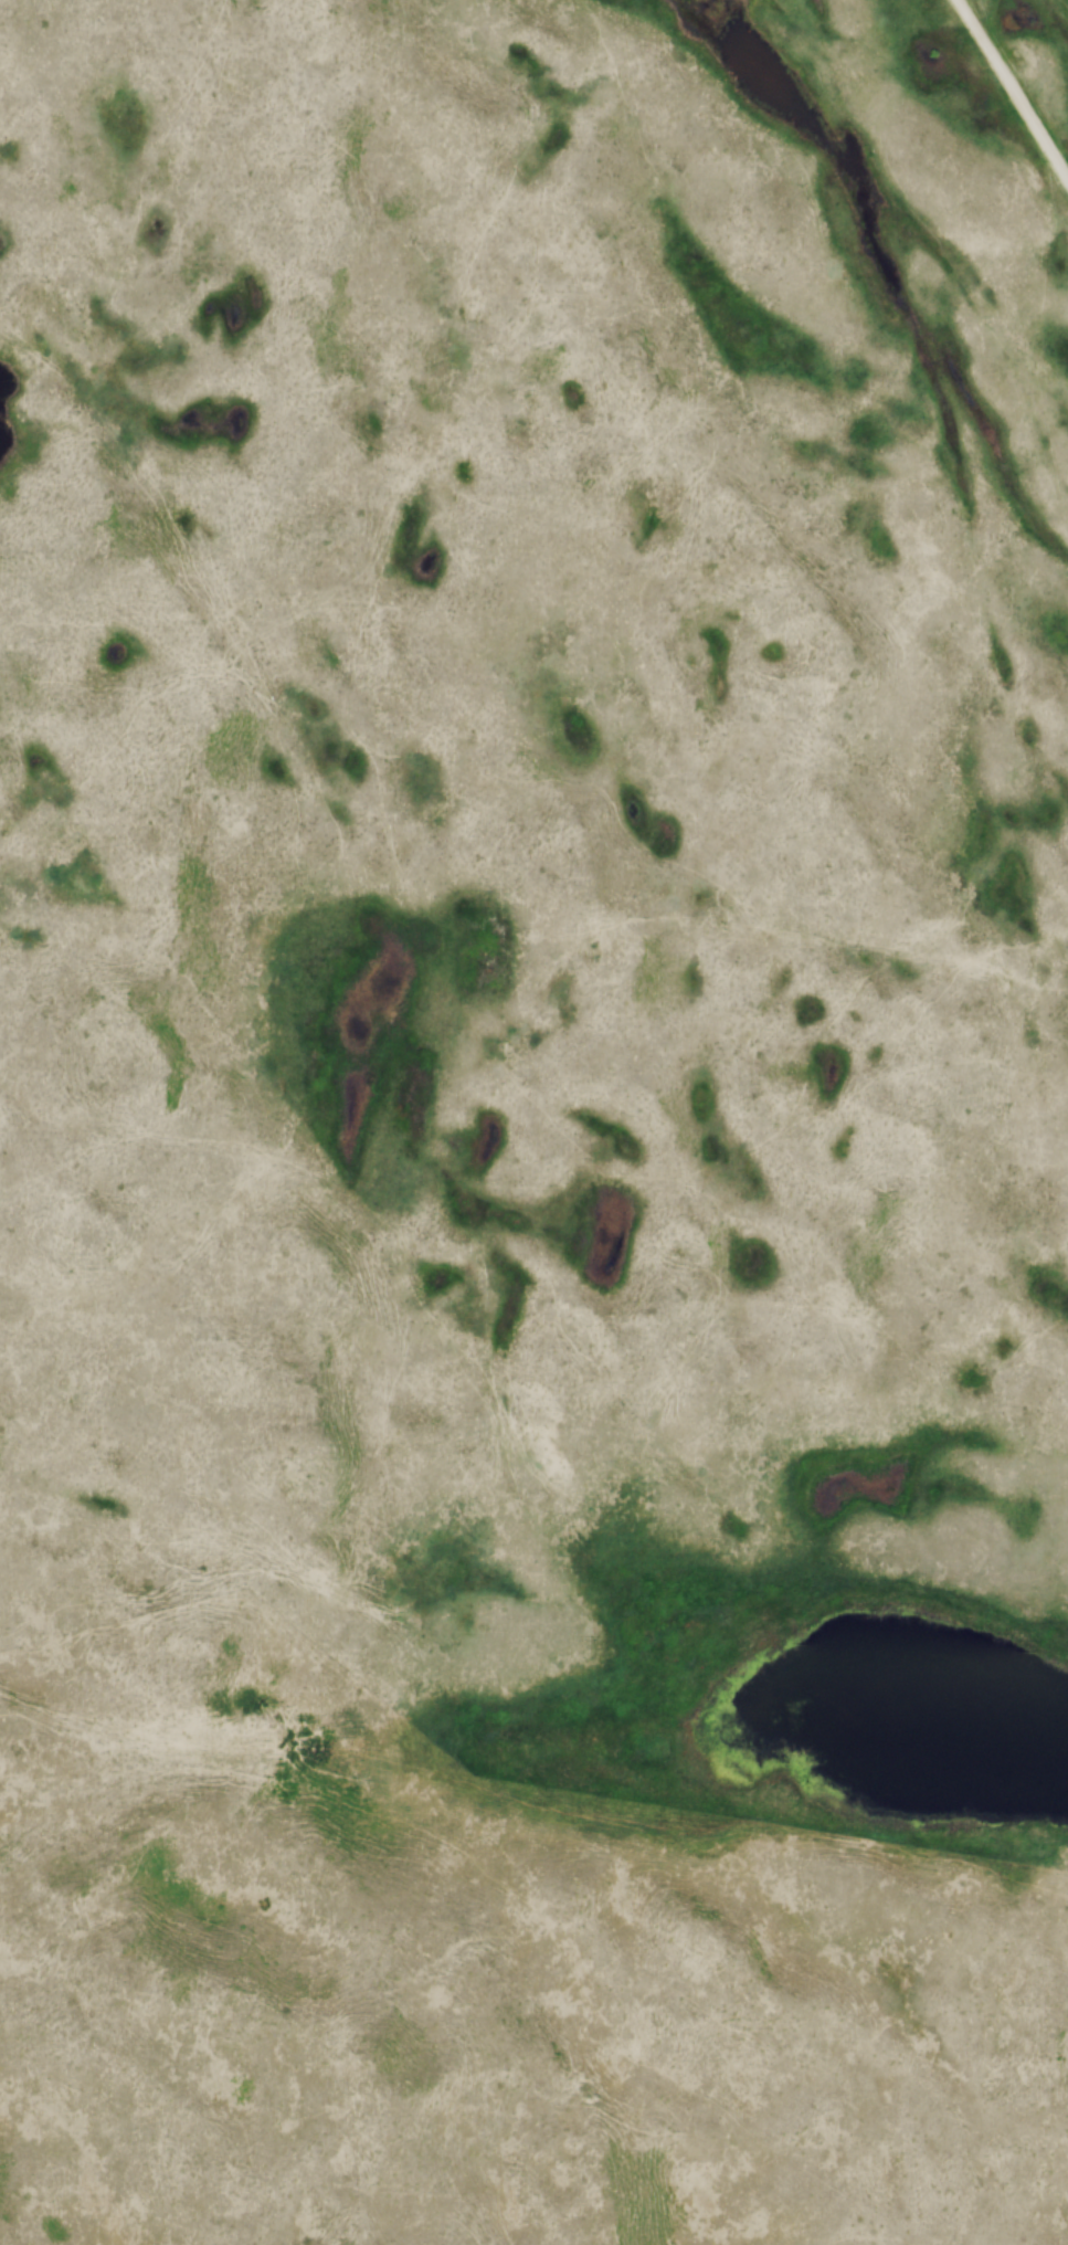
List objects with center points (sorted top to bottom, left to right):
road: (1013, 87)

